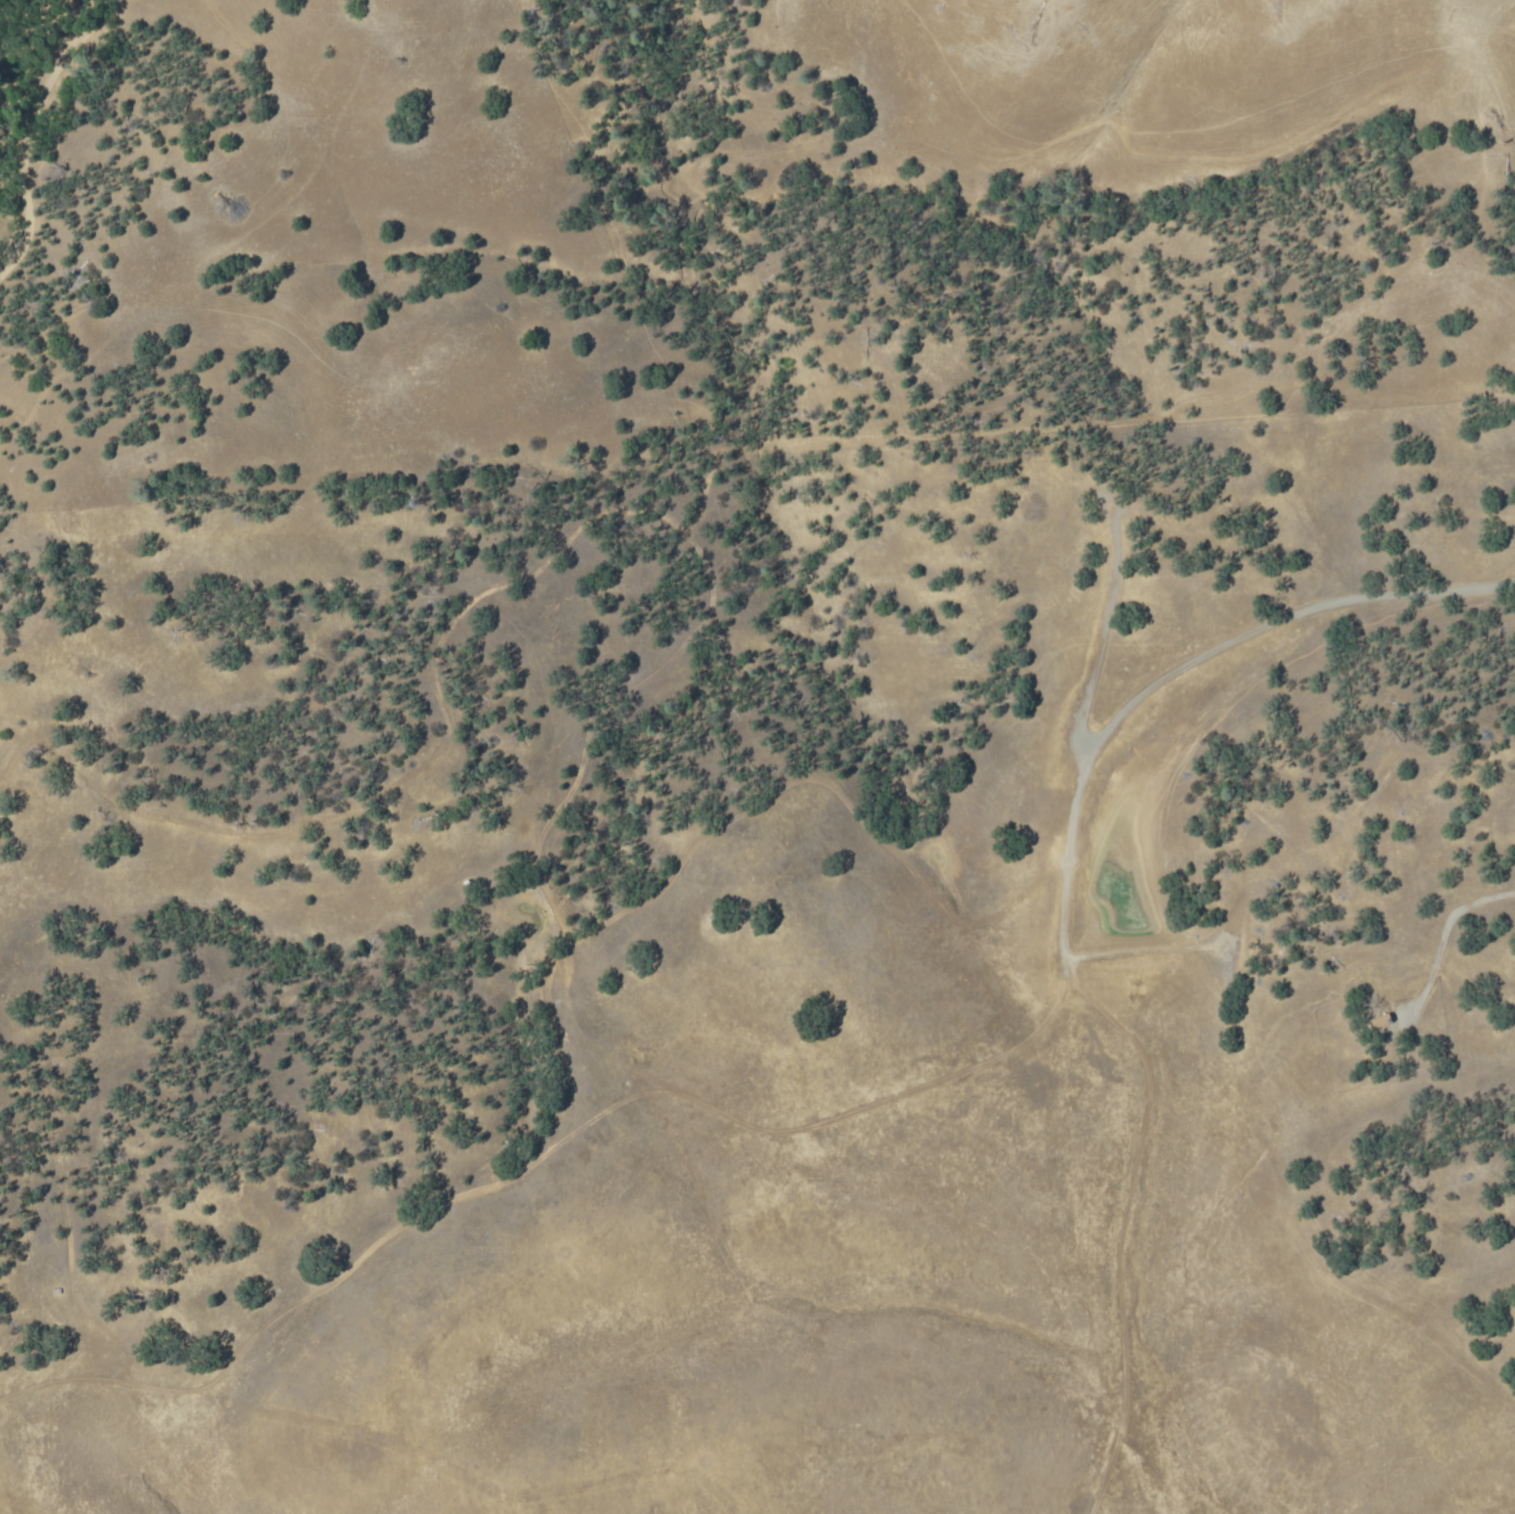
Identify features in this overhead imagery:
road: (1287, 616)
road: (1061, 922)
road: (1444, 935)
building: (1381, 1020)

